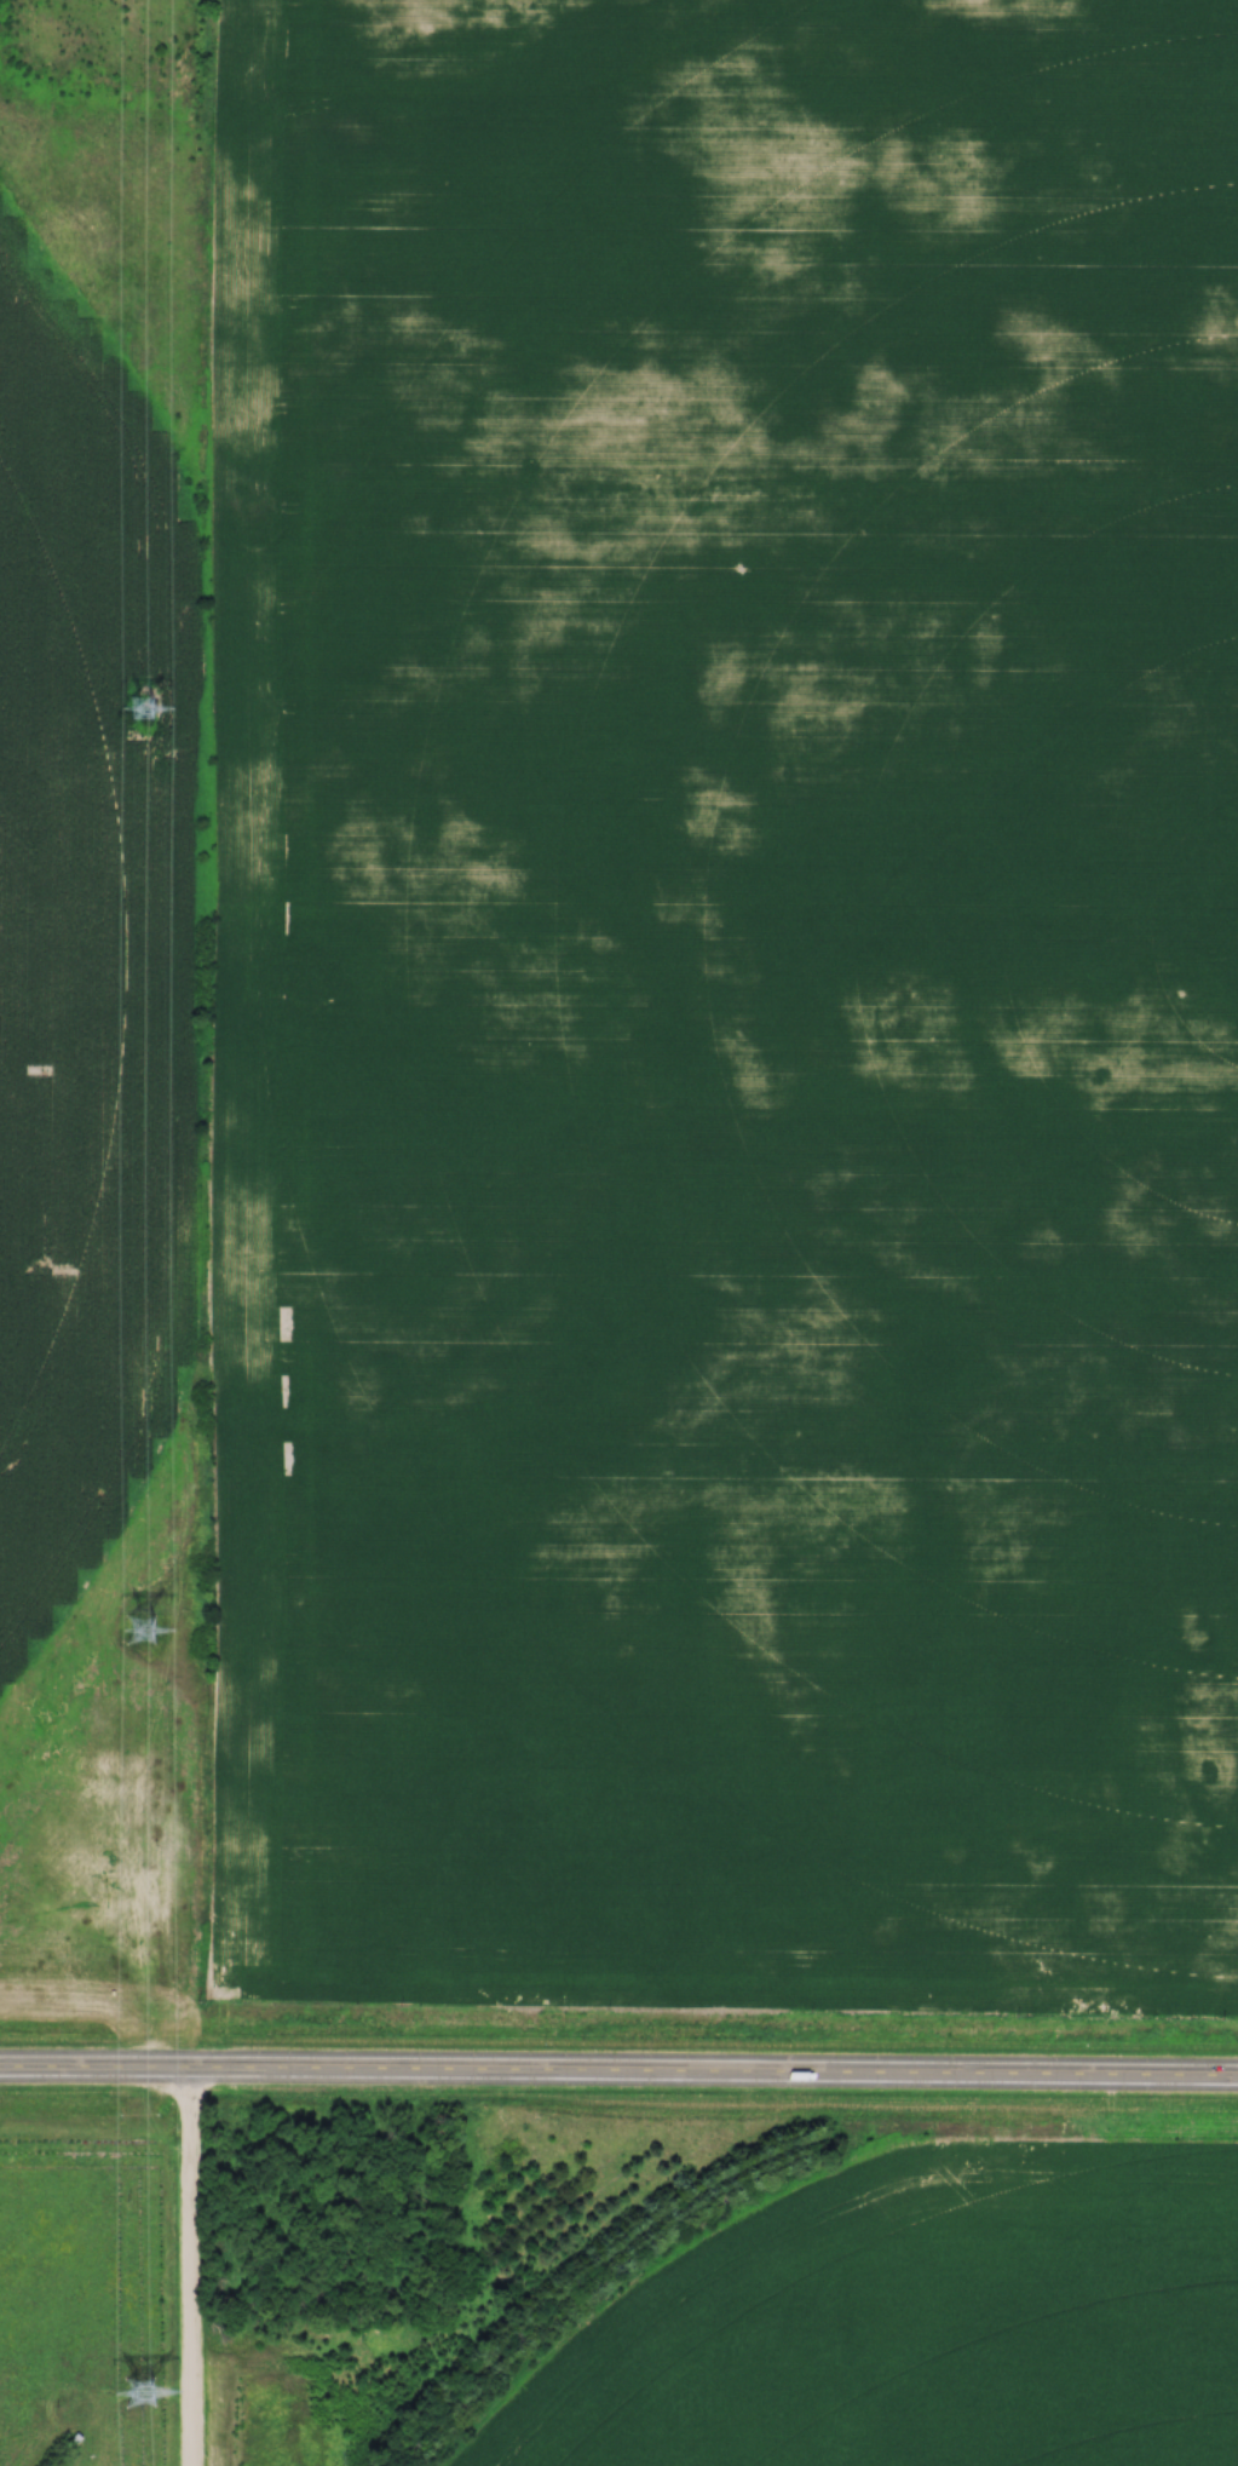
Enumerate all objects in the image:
power tower: (143, 713)
power tower: (146, 1631)
road: (618, 2080)
road: (192, 2272)
power tower: (149, 2395)

